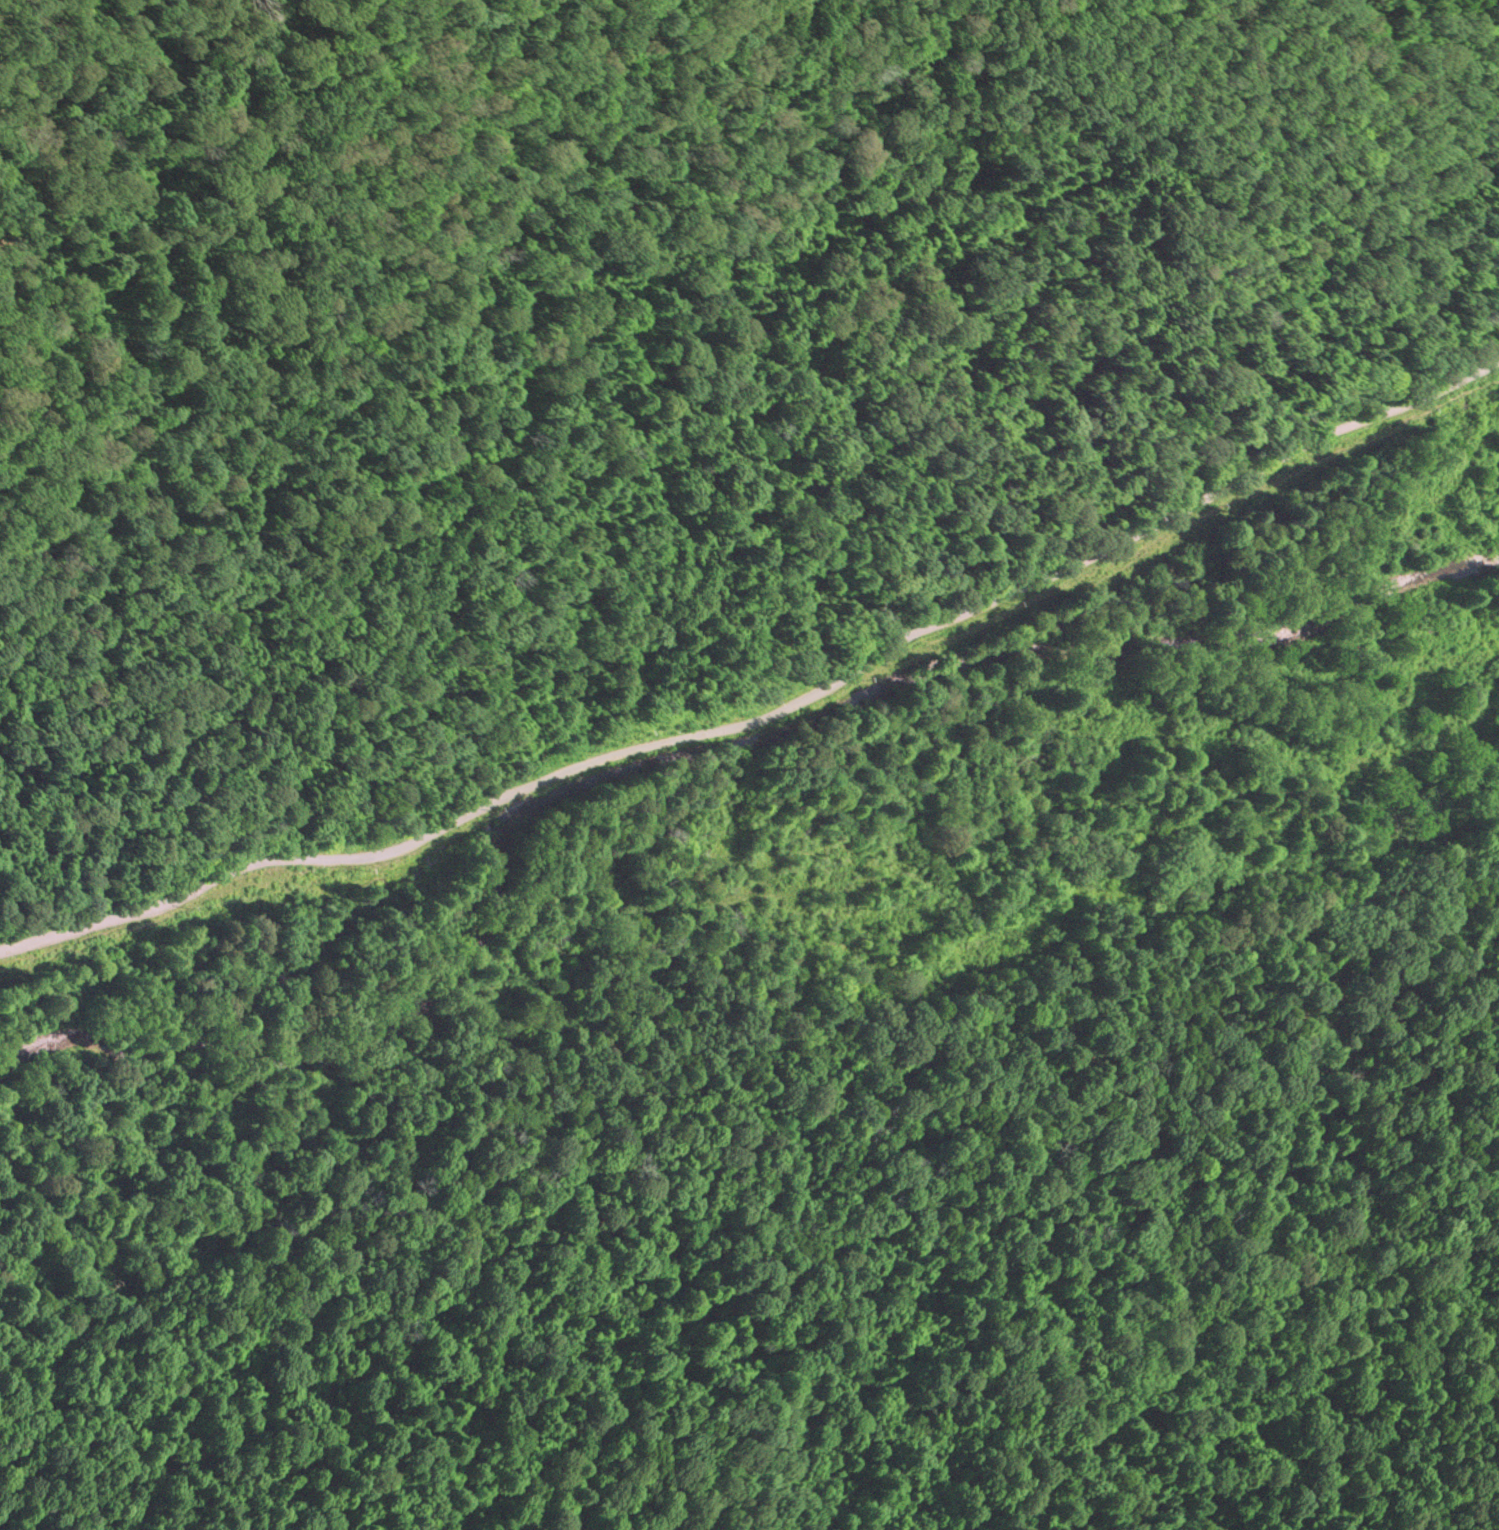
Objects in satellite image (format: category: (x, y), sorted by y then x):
road: (771, 675)

